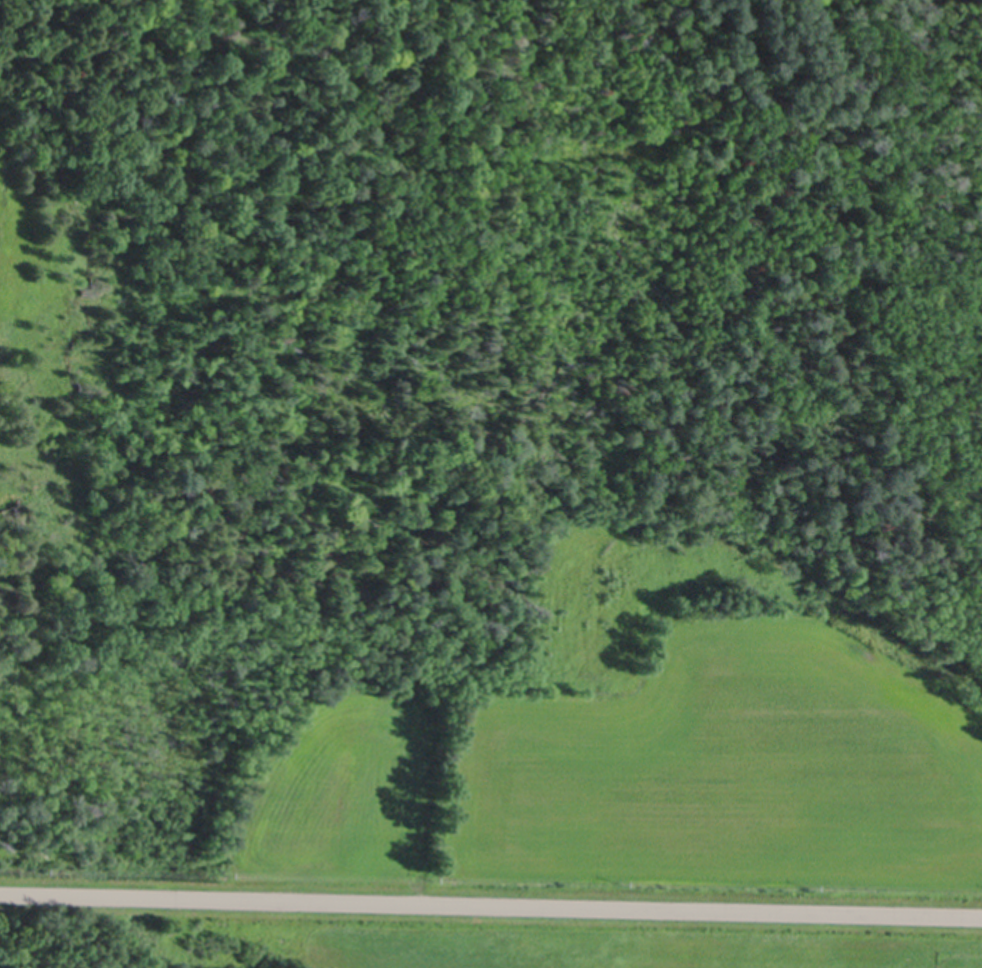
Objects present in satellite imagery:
road: (491, 898)

